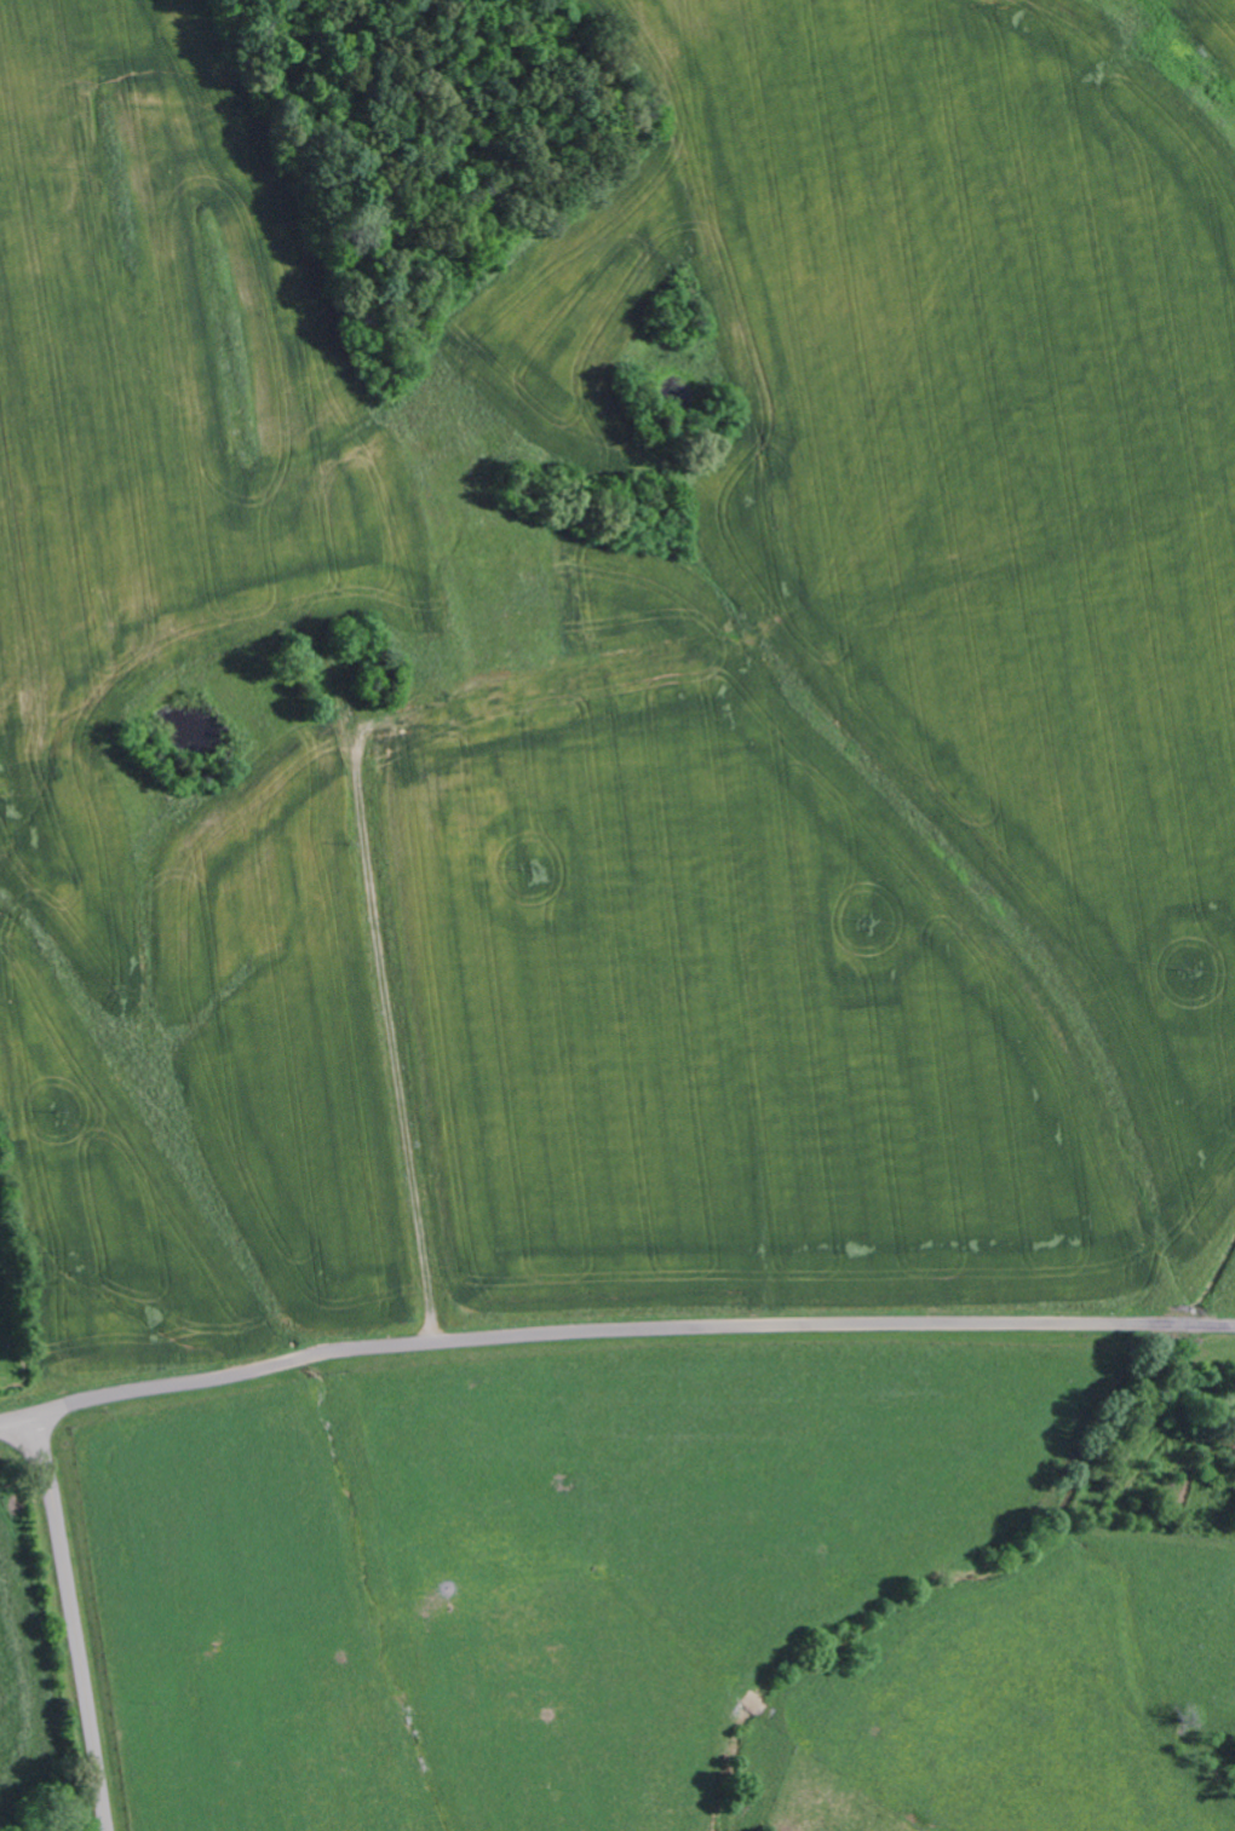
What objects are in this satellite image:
road: (392, 1004)
road: (630, 1332)
road: (16, 1417)
road: (71, 1622)

